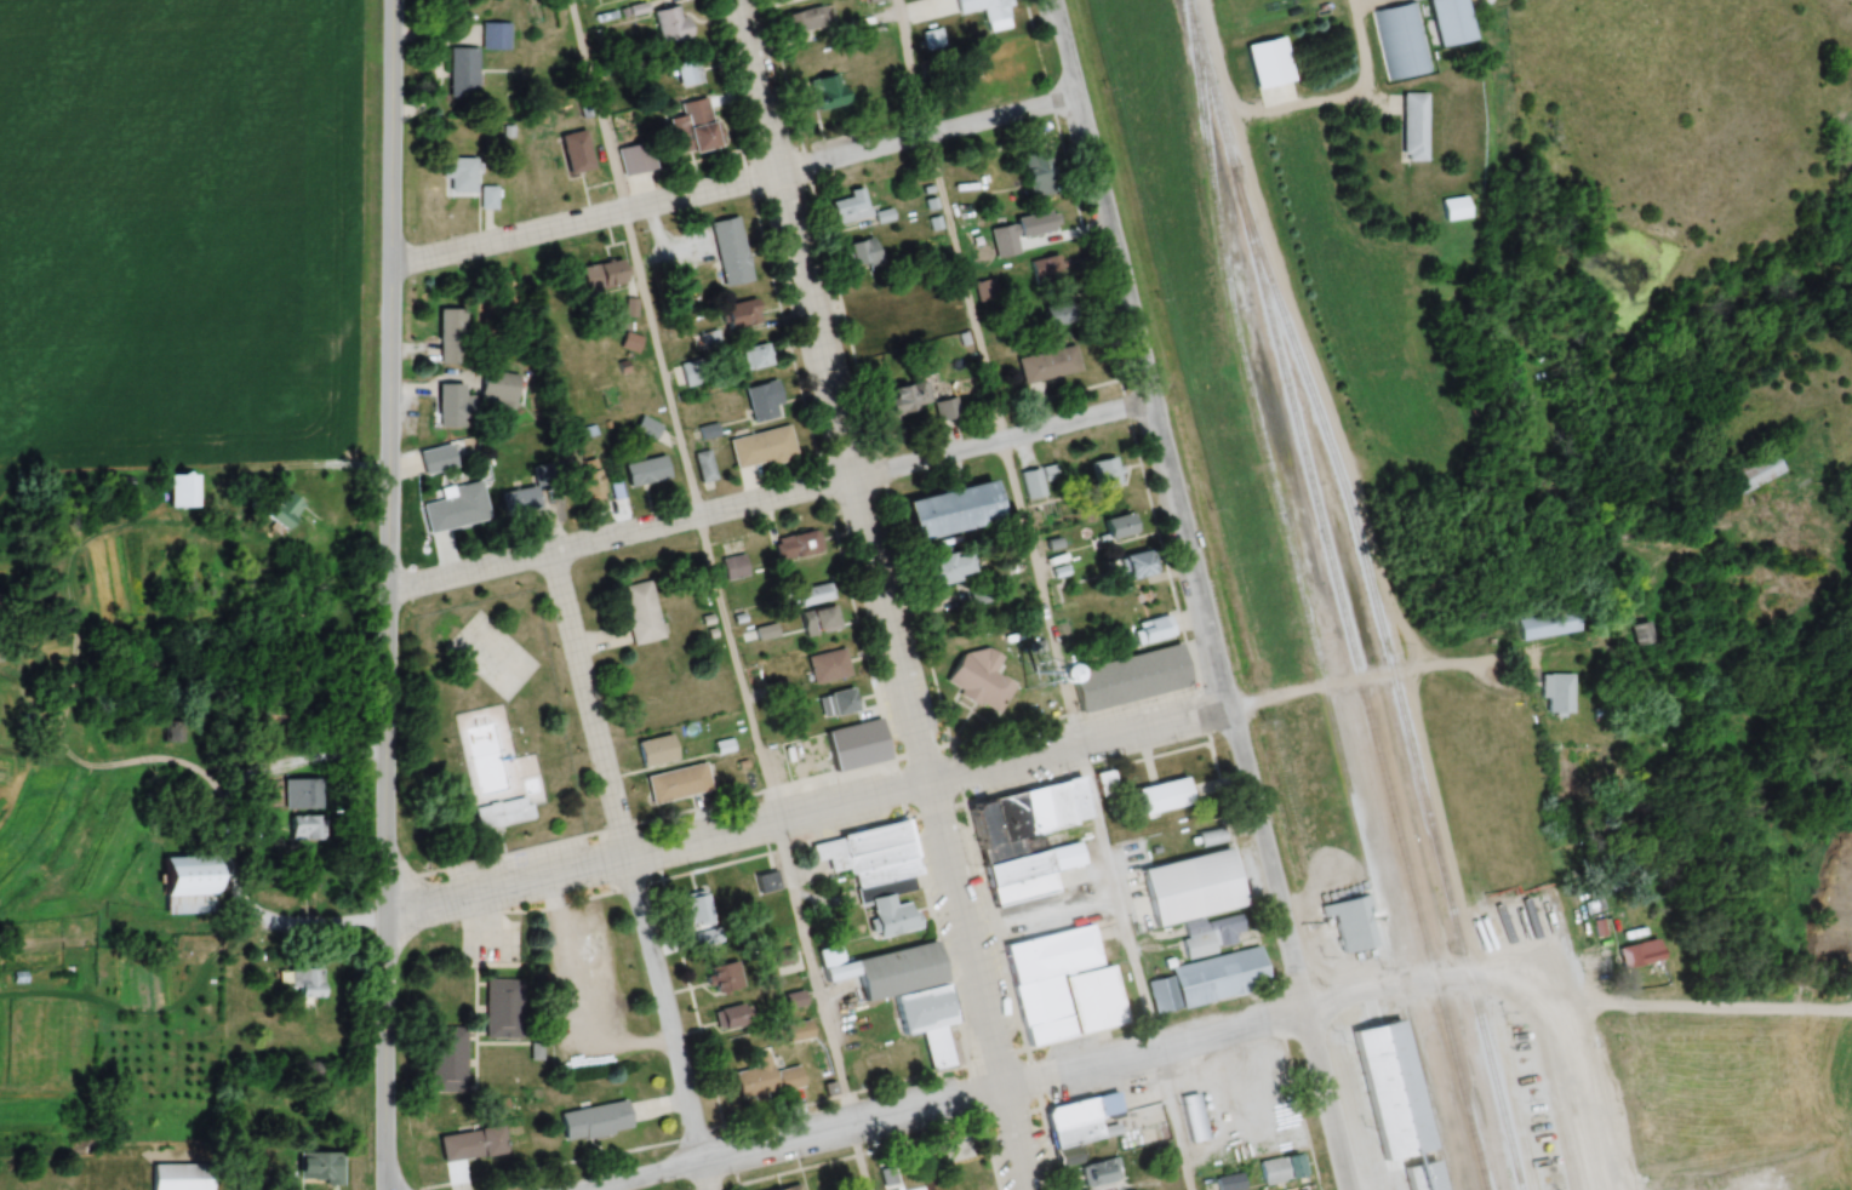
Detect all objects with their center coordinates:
building: (987, 11)
building: (807, 18)
building: (1448, 21)
building: (670, 22)
building: (496, 34)
building: (1400, 40)
road: (1219, 48)
road: (1359, 50)
building: (999, 51)
building: (463, 70)
building: (688, 70)
building: (827, 91)
building: (1413, 125)
building: (691, 126)
road: (925, 133)
building: (576, 150)
building: (635, 156)
building: (1041, 167)
building: (458, 171)
building: (487, 195)
building: (1453, 206)
building: (850, 207)
road: (581, 222)
building: (1034, 223)
building: (1002, 240)
building: (727, 251)
building: (862, 251)
building: (604, 273)
building: (885, 297)
building: (741, 313)
building: (1062, 313)
building: (453, 334)
building: (881, 338)
building: (630, 342)
building: (756, 355)
building: (1048, 364)
building: (692, 372)
building: (911, 394)
building: (765, 401)
building: (450, 404)
building: (647, 428)
building: (708, 430)
road: (1001, 444)
building: (761, 446)
building: (438, 457)
building: (704, 464)
building: (646, 470)
building: (1107, 470)
building: (1749, 473)
building: (588, 480)
building: (183, 490)
building: (520, 499)
road: (1177, 505)
building: (456, 507)
building: (284, 508)
building: (945, 515)
building: (1120, 524)
road: (618, 538)
road: (864, 544)
building: (799, 547)
building: (1139, 562)
building: (733, 565)
building: (948, 567)
building: (814, 593)
road: (1039, 594)
railway: (1338, 594)
road: (388, 595)
road: (713, 595)
railway: (1299, 599)
building: (641, 611)
building: (818, 619)
building: (1543, 627)
building: (1151, 629)
building: (1640, 635)
building: (828, 665)
building: (1128, 677)
building: (981, 679)
railway: (1395, 687)
building: (1555, 696)
building: (838, 702)
road: (1217, 706)
building: (172, 730)
building: (856, 743)
building: (656, 749)
road: (103, 771)
building: (678, 782)
building: (514, 793)
building: (1162, 795)
building: (307, 825)
building: (1027, 837)
road: (656, 846)
road: (230, 849)
road: (625, 859)
building: (876, 870)
building: (767, 881)
building: (187, 883)
building: (1187, 886)
building: (687, 898)
building: (1345, 922)
building: (1212, 933)
building: (1639, 955)
road: (566, 966)
building: (885, 967)
building: (725, 976)
building: (1047, 978)
building: (302, 979)
building: (1208, 979)
road: (1422, 983)
building: (1093, 997)
building: (795, 1001)
building: (502, 1007)
building: (732, 1015)
building: (927, 1020)
building: (799, 1030)
building: (446, 1058)
building: (1663, 1069)
building: (766, 1077)
building: (1383, 1093)
road: (1324, 1100)
building: (1193, 1116)
building: (594, 1119)
building: (1081, 1119)
building: (1149, 1119)
road: (1013, 1139)
road: (790, 1140)
building: (471, 1143)
building: (958, 1146)
building: (1068, 1157)
building: (320, 1166)
building: (1281, 1167)
building: (1102, 1171)
building: (182, 1175)
road: (703, 1177)
building: (1416, 1178)
building: (1229, 1182)
building: (791, 1188)

